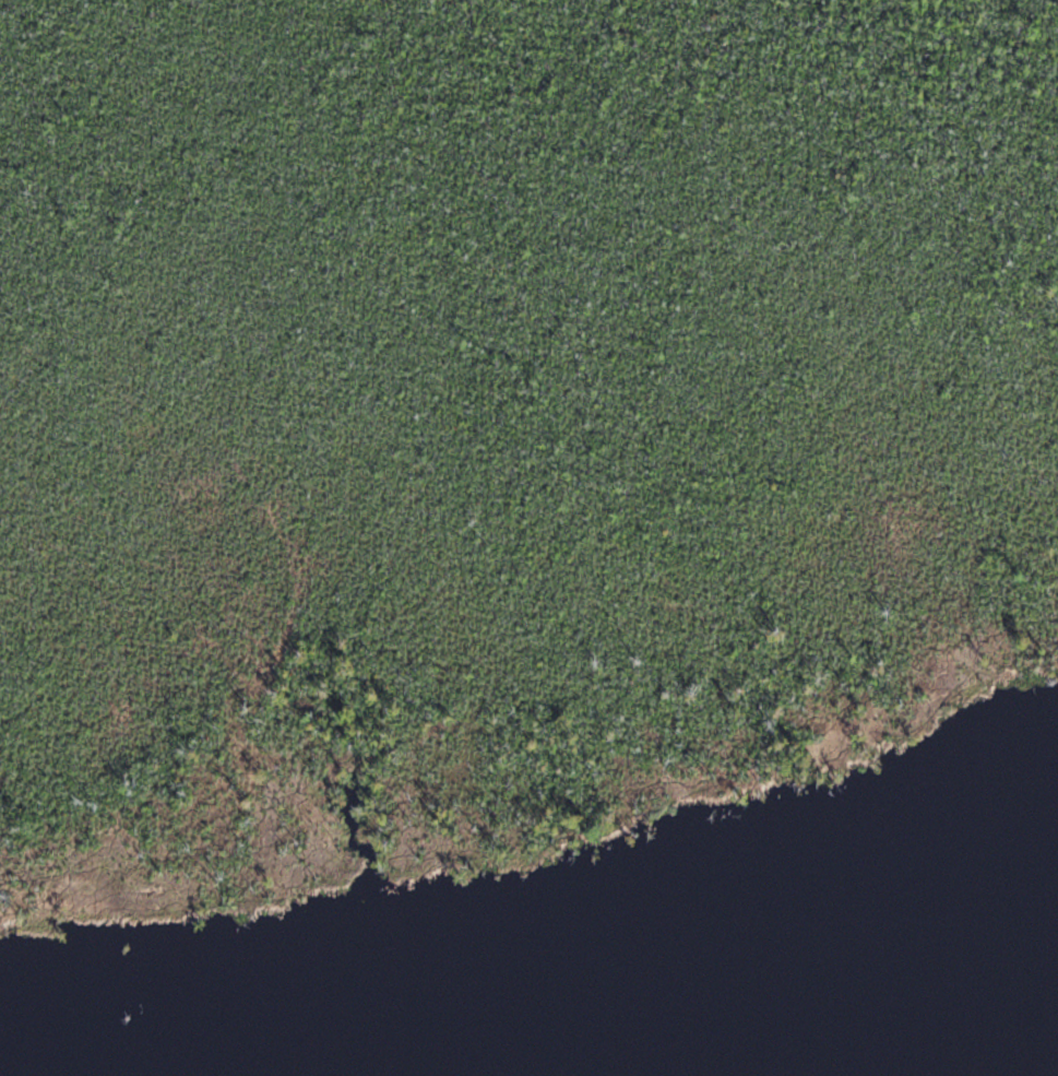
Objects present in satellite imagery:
river: (974, 1029)

